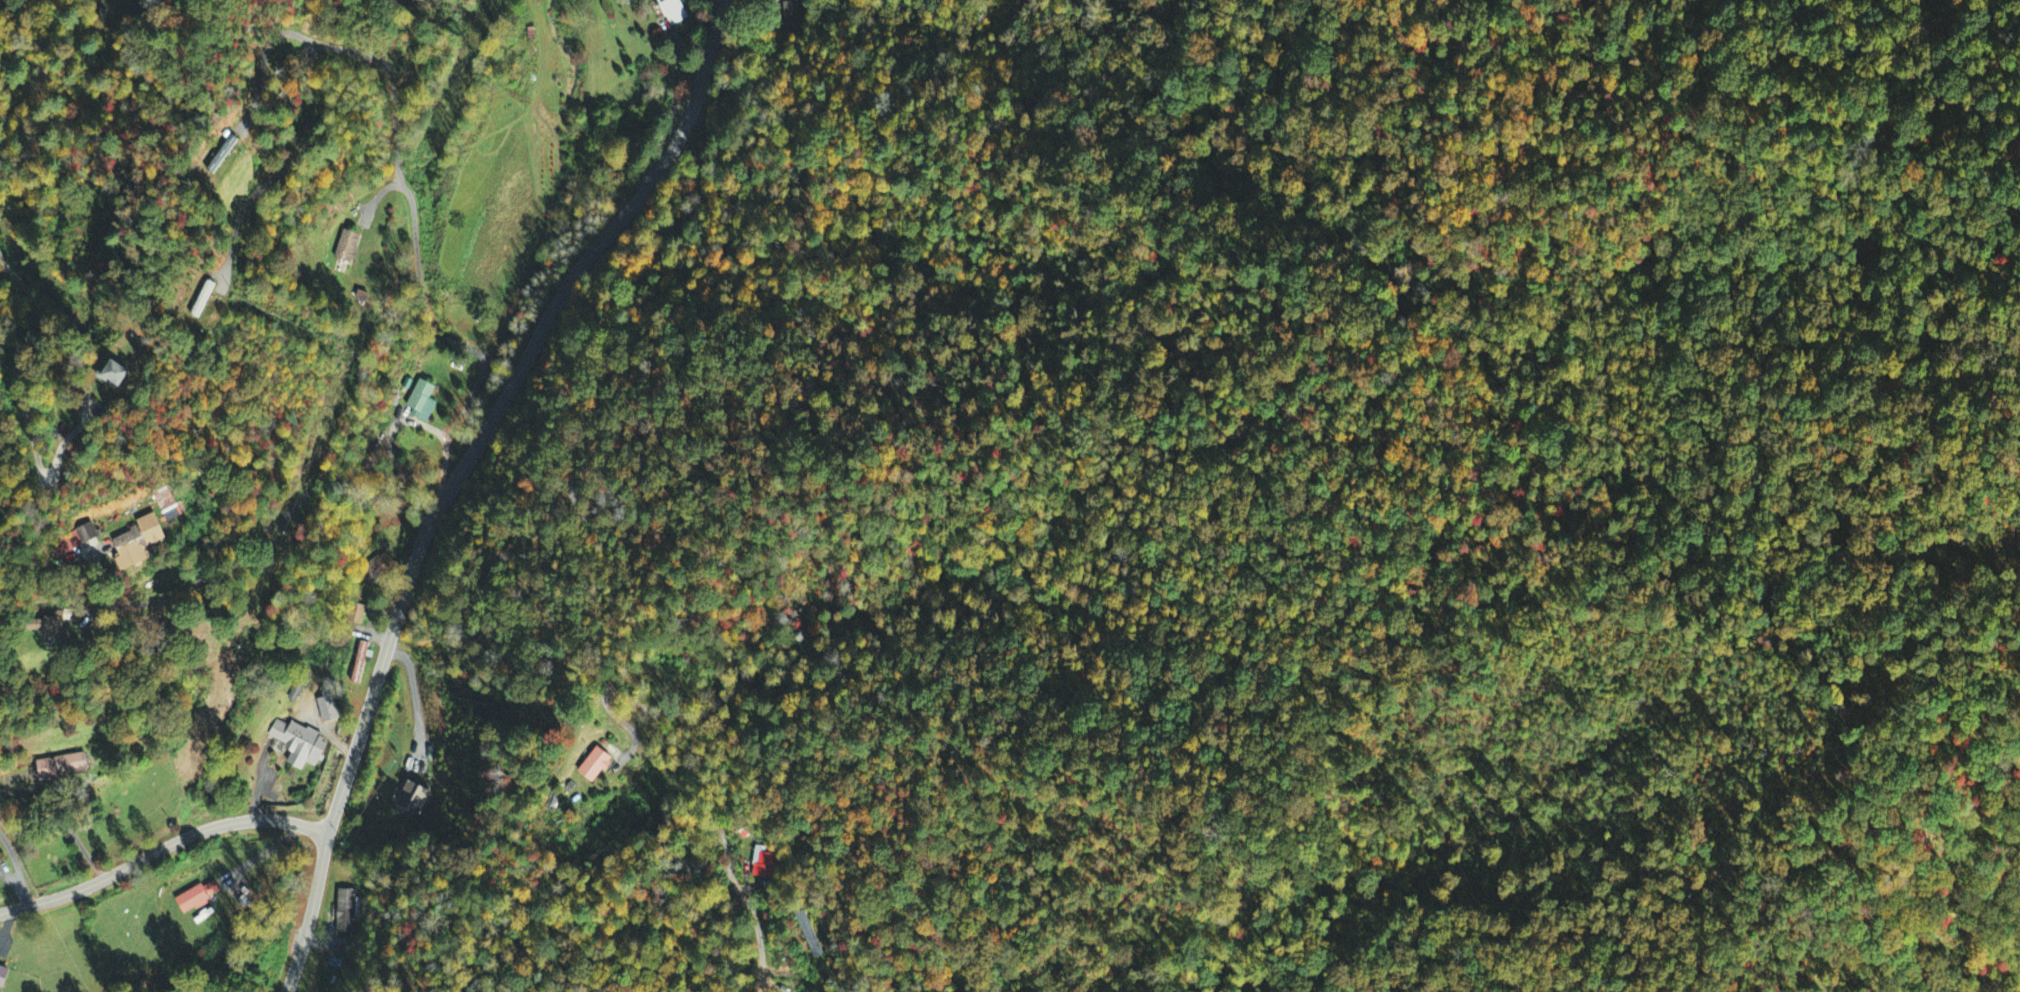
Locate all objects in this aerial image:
building: (672, 12)
building: (788, 14)
road: (392, 79)
road: (669, 115)
building: (230, 145)
building: (347, 247)
road: (420, 286)
building: (120, 377)
road: (502, 400)
building: (422, 402)
road: (466, 402)
road: (19, 403)
road: (395, 426)
road: (270, 524)
building: (88, 534)
building: (139, 544)
road: (560, 572)
building: (49, 626)
building: (328, 708)
building: (300, 745)
building: (596, 766)
building: (63, 768)
building: (412, 799)
road: (75, 834)
road: (160, 848)
building: (762, 864)
road: (18, 867)
building: (198, 898)
road: (310, 911)
building: (345, 913)
building: (4, 978)

